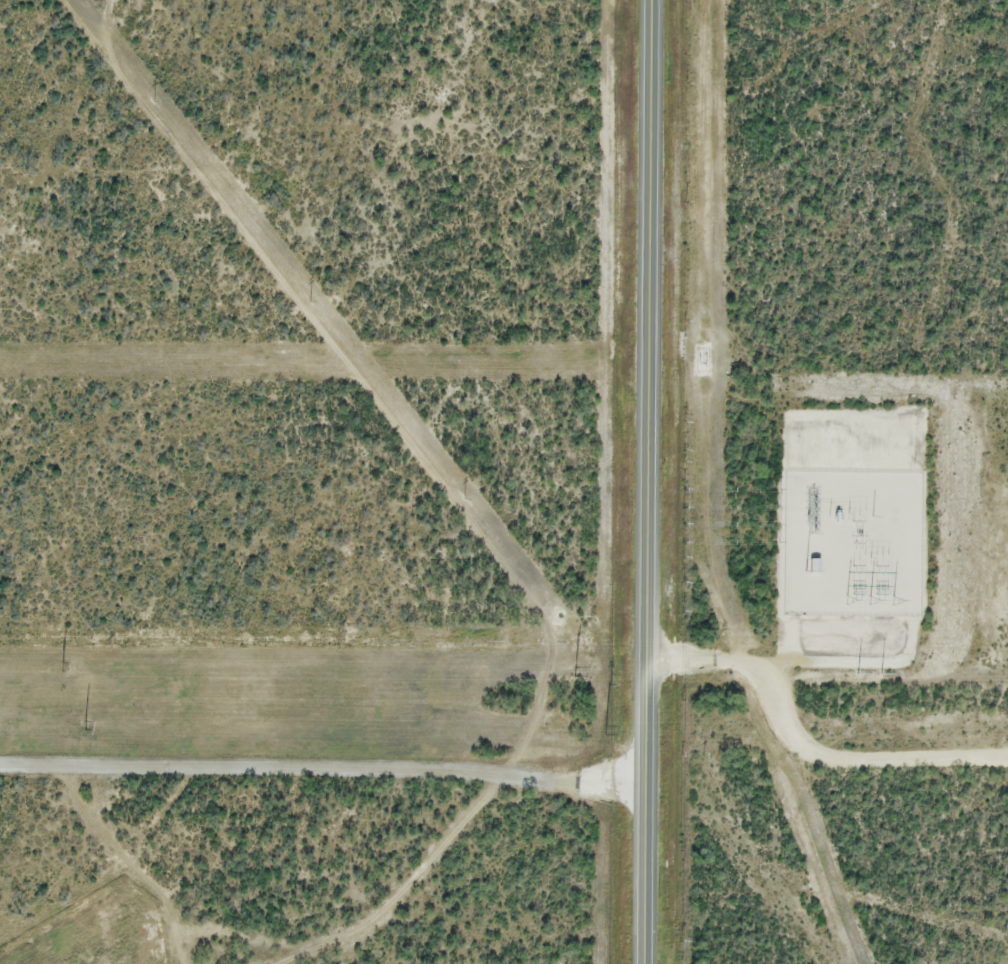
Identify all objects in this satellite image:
power tower: (154, 100)
power tower: (310, 301)
road: (646, 482)
power tower: (465, 500)
power substation: (853, 541)
building: (814, 565)
road: (897, 659)
power tower: (62, 665)
power tower: (575, 669)
power tower: (881, 673)
power tower: (857, 674)
power tower: (610, 683)
power tower: (86, 725)
power tower: (605, 729)
road: (801, 748)
road: (322, 766)
power tower: (759, 874)

